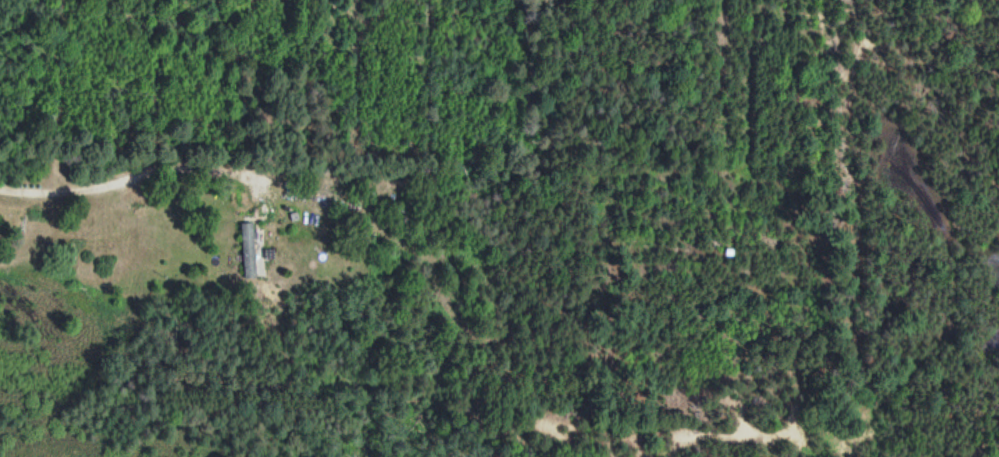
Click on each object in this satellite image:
road: (82, 197)
building: (337, 205)
building: (246, 251)

